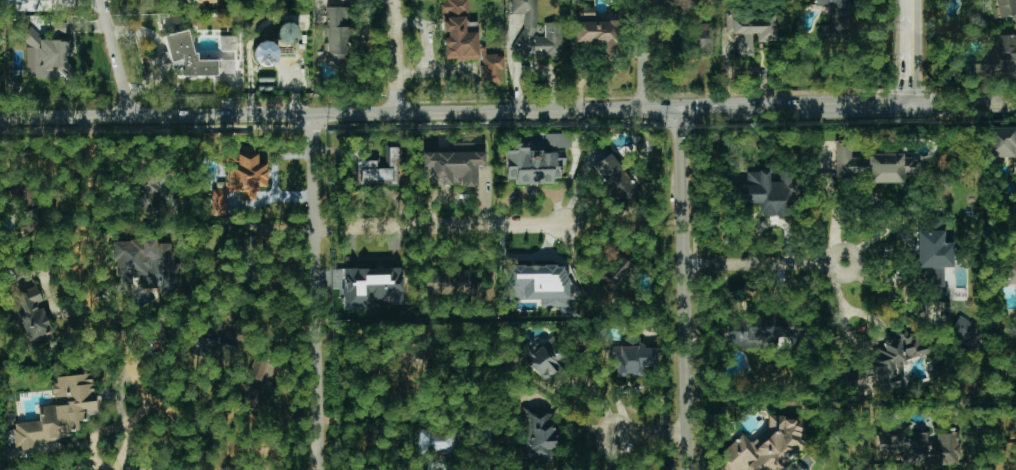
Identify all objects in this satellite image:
building: (27, 1)
building: (198, 1)
building: (1003, 8)
building: (836, 19)
building: (750, 29)
building: (553, 30)
building: (598, 34)
building: (336, 35)
building: (703, 37)
building: (467, 41)
building: (228, 44)
road: (162, 52)
road: (908, 53)
building: (265, 54)
road: (642, 55)
building: (45, 56)
building: (184, 56)
road: (394, 56)
building: (997, 57)
road: (117, 58)
road: (745, 70)
road: (962, 105)
road: (837, 107)
road: (721, 109)
road: (339, 113)
building: (1000, 142)
building: (455, 164)
building: (532, 164)
building: (874, 165)
building: (378, 170)
building: (615, 180)
building: (150, 190)
building: (768, 193)
building: (30, 221)
road: (439, 226)
road: (875, 239)
building: (934, 261)
building: (144, 263)
road: (765, 263)
building: (616, 269)
building: (1011, 272)
building: (539, 285)
building: (451, 286)
building: (371, 287)
road: (683, 289)
road: (317, 291)
building: (33, 319)
building: (962, 330)
building: (765, 331)
road: (854, 340)
road: (121, 344)
building: (212, 347)
building: (546, 357)
building: (631, 358)
building: (890, 360)
building: (262, 369)
building: (397, 373)
road: (600, 392)
building: (250, 394)
building: (60, 412)
road: (130, 422)
building: (537, 433)
road: (650, 435)
building: (436, 441)
building: (765, 447)
building: (921, 448)
building: (47, 469)

